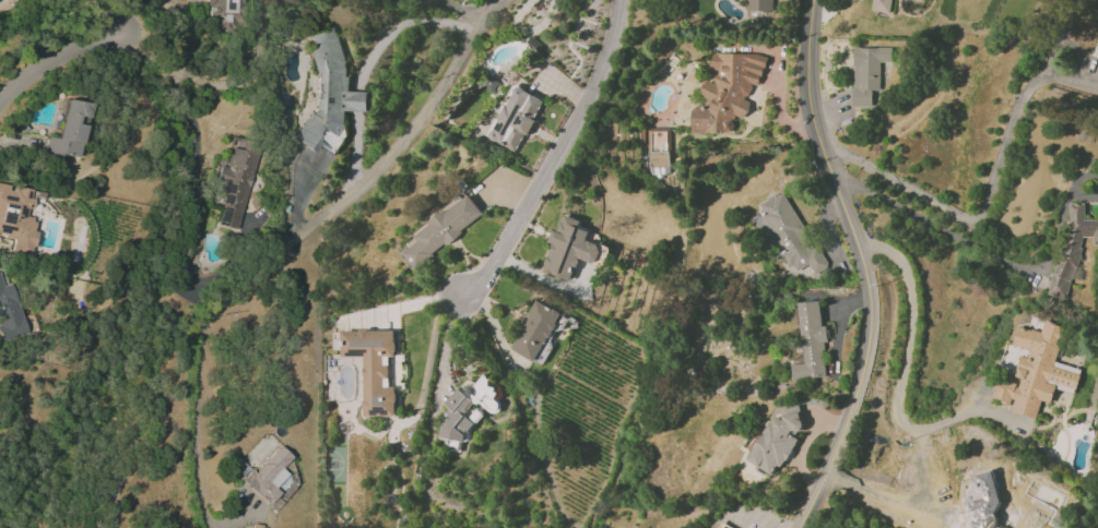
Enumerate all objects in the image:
building: (920, 0)
building: (758, 5)
building: (882, 5)
road: (460, 9)
road: (102, 14)
building: (221, 14)
road: (400, 25)
road: (58, 60)
building: (867, 73)
building: (727, 92)
building: (328, 94)
road: (356, 100)
building: (513, 118)
building: (68, 131)
road: (405, 134)
building: (658, 147)
road: (354, 149)
road: (556, 156)
road: (1079, 178)
building: (232, 189)
road: (1084, 196)
road: (987, 204)
building: (16, 219)
building: (441, 230)
building: (788, 235)
road: (972, 245)
building: (568, 248)
road: (863, 266)
building: (10, 314)
building: (534, 331)
building: (810, 341)
building: (373, 368)
building: (1036, 371)
road: (199, 391)
building: (467, 409)
road: (899, 411)
building: (778, 437)
building: (269, 477)
building: (718, 527)

